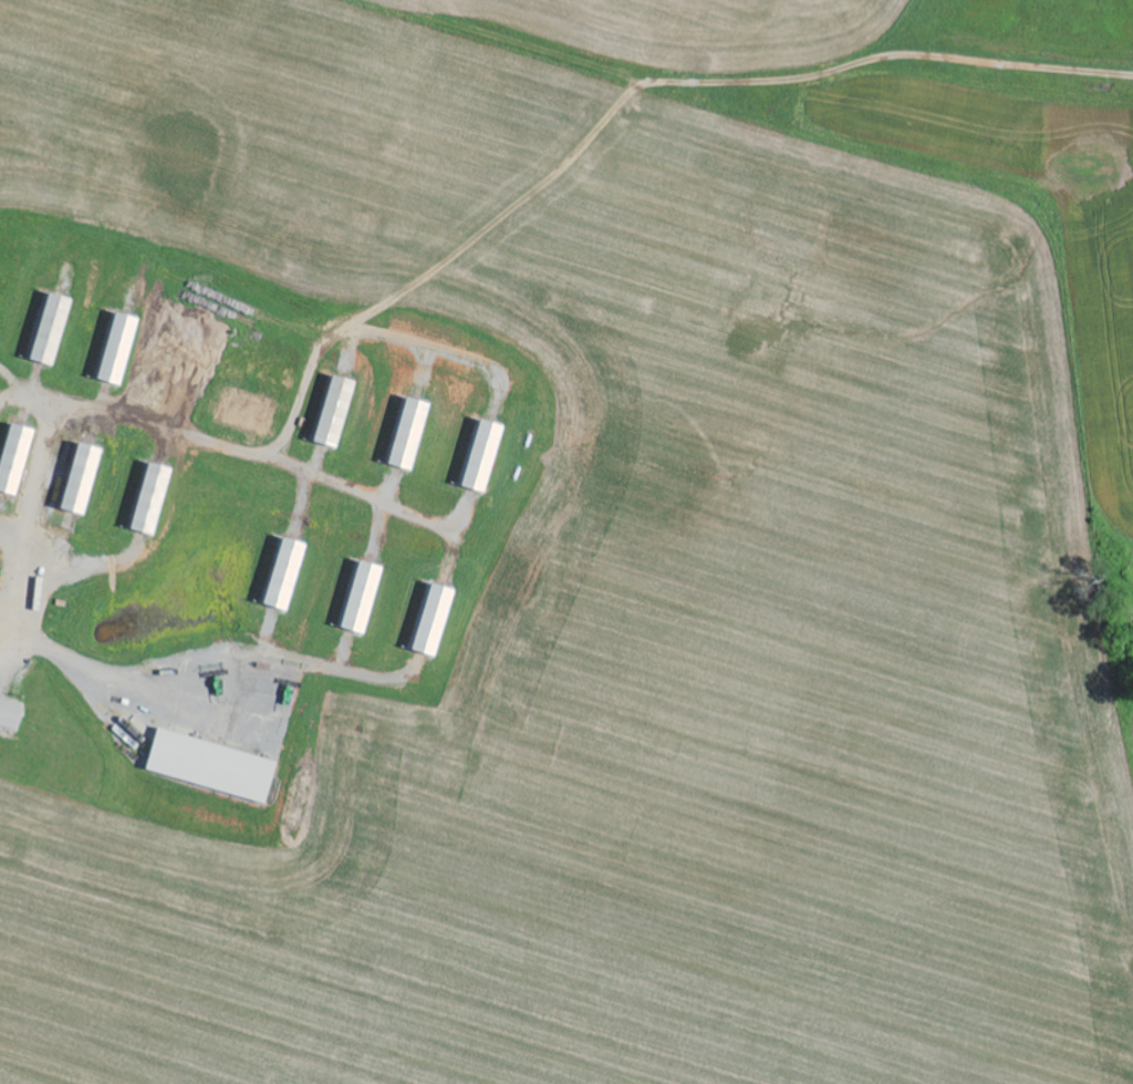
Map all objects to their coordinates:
road: (777, 76)
building: (55, 330)
building: (121, 350)
building: (250, 413)
building: (339, 413)
building: (484, 456)
building: (19, 461)
building: (86, 481)
building: (156, 500)
building: (289, 575)
building: (364, 598)
building: (11, 715)
building: (216, 767)

